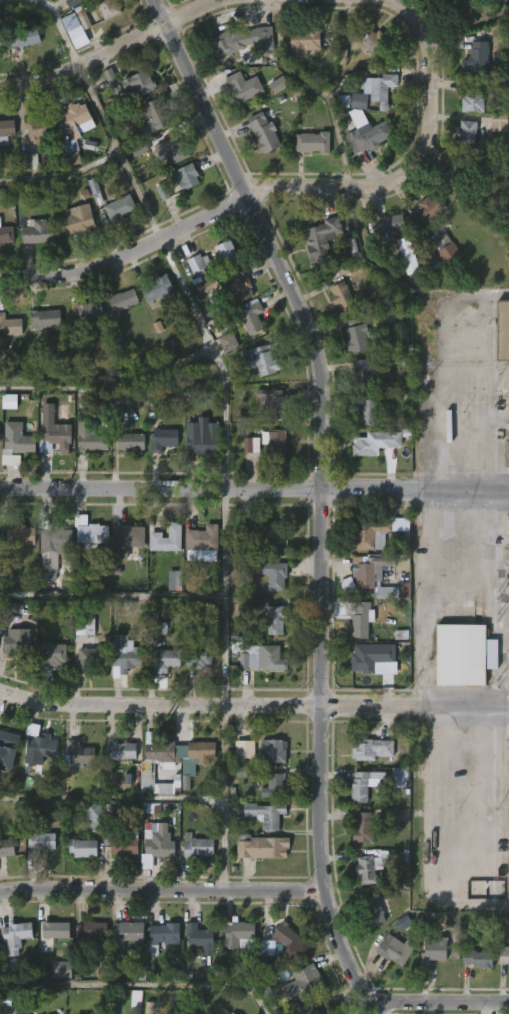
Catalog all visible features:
building: (72, 2)
building: (110, 9)
road: (193, 12)
building: (466, 12)
building: (84, 20)
building: (352, 26)
building: (75, 31)
building: (28, 39)
building: (241, 42)
building: (304, 42)
building: (376, 47)
building: (342, 57)
building: (479, 59)
road: (85, 60)
building: (137, 84)
building: (114, 85)
building: (279, 85)
building: (242, 87)
building: (381, 87)
road: (316, 89)
building: (476, 97)
building: (355, 101)
building: (156, 114)
building: (72, 119)
building: (7, 131)
building: (39, 133)
building: (262, 133)
building: (468, 136)
building: (369, 137)
building: (313, 142)
building: (139, 149)
building: (174, 151)
building: (72, 152)
road: (417, 158)
building: (29, 162)
building: (188, 175)
road: (63, 176)
building: (454, 176)
building: (162, 192)
building: (121, 207)
building: (428, 209)
building: (82, 219)
building: (385, 226)
building: (37, 233)
building: (6, 234)
building: (321, 237)
building: (444, 246)
road: (128, 253)
building: (227, 253)
building: (410, 257)
building: (196, 264)
building: (231, 285)
building: (156, 288)
building: (341, 297)
building: (121, 301)
building: (93, 312)
building: (45, 317)
building: (254, 318)
building: (353, 322)
building: (9, 325)
building: (355, 338)
building: (503, 341)
building: (228, 342)
building: (74, 346)
building: (262, 360)
building: (365, 373)
building: (9, 401)
building: (272, 404)
building: (368, 410)
road: (224, 423)
building: (53, 438)
building: (89, 438)
building: (200, 438)
building: (162, 440)
building: (276, 440)
building: (128, 441)
building: (378, 442)
building: (18, 444)
building: (251, 445)
road: (254, 489)
road: (322, 494)
building: (22, 535)
building: (243, 535)
building: (372, 535)
building: (53, 536)
building: (89, 536)
building: (201, 538)
building: (165, 539)
building: (126, 540)
building: (270, 541)
road: (490, 555)
building: (48, 565)
building: (370, 569)
building: (273, 577)
building: (175, 580)
road: (423, 599)
building: (266, 613)
building: (362, 618)
building: (83, 625)
building: (156, 628)
building: (508, 629)
building: (18, 641)
building: (464, 648)
building: (52, 654)
building: (123, 654)
building: (370, 656)
building: (90, 657)
building: (167, 658)
building: (200, 658)
building: (265, 659)
road: (159, 706)
road: (414, 707)
building: (8, 738)
building: (44, 747)
building: (373, 749)
building: (244, 750)
building: (122, 751)
building: (161, 751)
building: (202, 751)
building: (275, 751)
building: (79, 753)
building: (5, 756)
building: (243, 771)
building: (399, 777)
building: (154, 785)
building: (272, 785)
building: (365, 785)
road: (113, 796)
building: (268, 814)
building: (95, 817)
building: (507, 821)
building: (362, 831)
building: (121, 838)
building: (39, 842)
road: (489, 842)
building: (160, 844)
building: (197, 845)
building: (79, 847)
building: (264, 847)
building: (6, 848)
building: (369, 868)
road: (163, 890)
building: (377, 910)
building: (403, 923)
building: (54, 929)
building: (91, 931)
building: (126, 932)
building: (14, 933)
building: (162, 934)
building: (240, 935)
building: (198, 937)
building: (289, 937)
building: (267, 947)
building: (396, 949)
building: (433, 951)
building: (503, 954)
building: (476, 958)
building: (62, 970)
building: (303, 983)
road: (139, 986)
road: (440, 1004)
building: (323, 1008)
building: (136, 1010)
building: (232, 1013)

